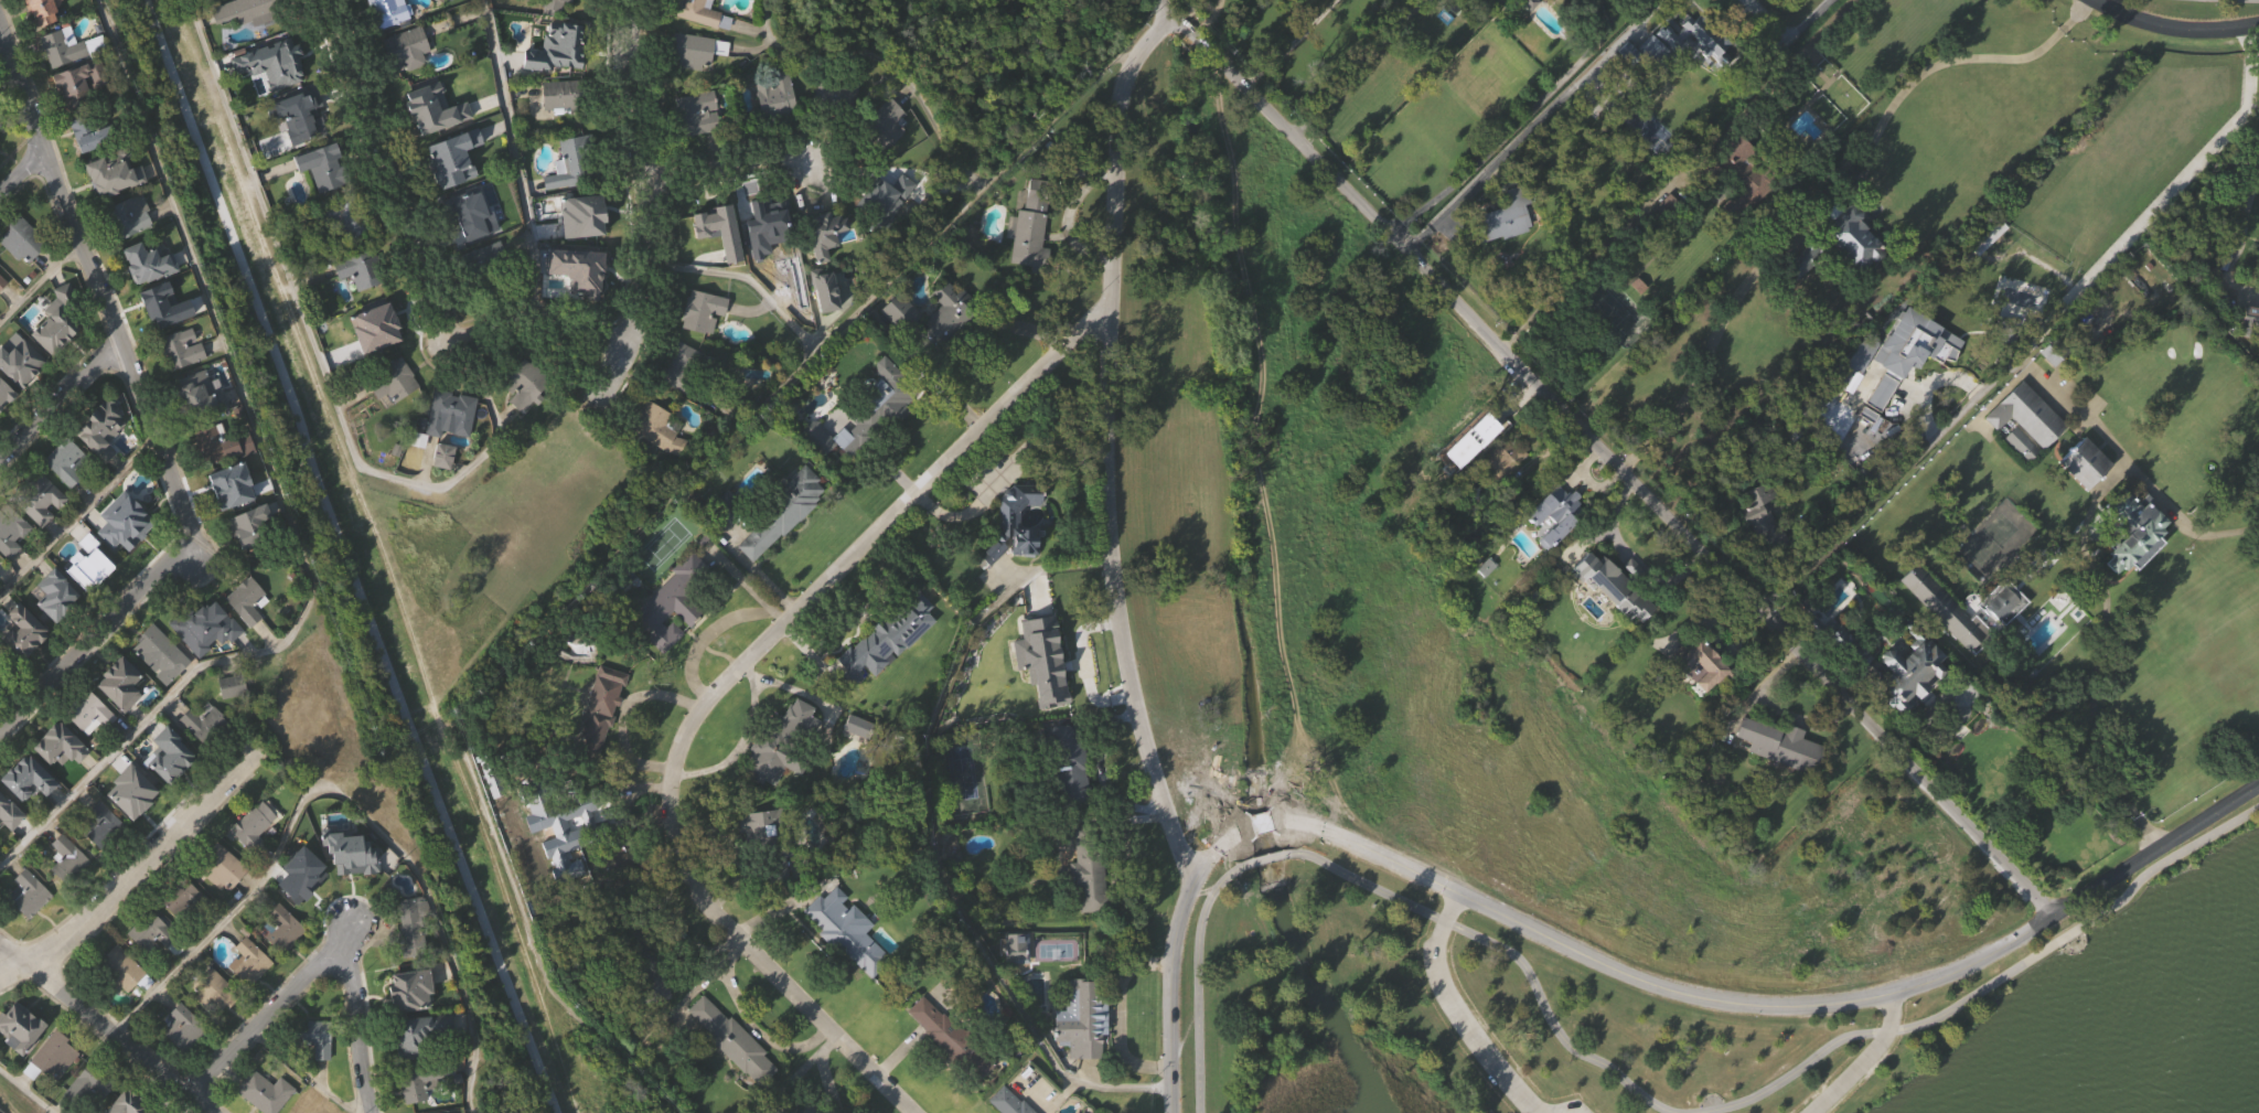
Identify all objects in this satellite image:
building: (729, 3)
building: (251, 4)
building: (375, 4)
building: (1521, 4)
building: (1582, 4)
building: (1640, 7)
park: (2193, 9)
building: (38, 10)
building: (700, 13)
building: (565, 19)
road: (1202, 26)
road: (2173, 28)
building: (395, 32)
building: (1530, 32)
building: (49, 34)
building: (697, 34)
road: (1785, 35)
building: (1710, 41)
building: (259, 43)
road: (2, 45)
building: (63, 49)
road: (1280, 51)
road: (890, 60)
road: (1924, 68)
road: (1350, 73)
building: (1681, 78)
building: (565, 79)
building: (73, 82)
building: (693, 83)
building: (410, 85)
building: (276, 93)
building: (1, 114)
building: (79, 116)
building: (0, 125)
building: (563, 128)
building: (777, 128)
building: (836, 128)
road: (1524, 132)
building: (94, 136)
building: (433, 140)
building: (297, 143)
building: (698, 147)
building: (1, 157)
building: (888, 158)
building: (90, 168)
road: (22, 175)
building: (1702, 176)
road: (521, 178)
building: (1742, 178)
building: (109, 181)
road: (731, 183)
building: (577, 193)
building: (456, 196)
building: (325, 202)
building: (114, 207)
building: (1662, 211)
road: (2244, 213)
road: (649, 216)
building: (1503, 217)
building: (130, 218)
building: (757, 218)
building: (889, 222)
building: (711, 225)
building: (1029, 227)
building: (820, 234)
building: (21, 238)
building: (1850, 239)
building: (1508, 250)
building: (585, 252)
building: (474, 253)
building: (761, 253)
building: (341, 254)
road: (1586, 258)
building: (1806, 259)
building: (1030, 260)
building: (143, 263)
building: (720, 265)
road: (406, 272)
building: (1856, 272)
building: (23, 275)
building: (1990, 275)
road: (747, 278)
road: (39, 280)
building: (2, 282)
building: (483, 288)
building: (821, 291)
building: (1806, 295)
building: (150, 297)
building: (582, 303)
building: (361, 306)
building: (162, 310)
building: (700, 311)
building: (2, 315)
building: (488, 318)
building: (934, 318)
building: (55, 321)
building: (2249, 321)
building: (825, 325)
building: (2010, 332)
road: (1712, 341)
building: (704, 345)
building: (901, 347)
building: (1903, 347)
building: (178, 349)
building: (946, 350)
building: (2052, 352)
building: (2250, 353)
building: (57, 355)
building: (377, 357)
building: (19, 361)
road: (313, 371)
building: (682, 371)
road: (940, 386)
building: (1902, 387)
building: (2054, 393)
building: (4, 395)
building: (194, 395)
road: (58, 398)
building: (682, 400)
building: (1814, 402)
building: (522, 410)
road: (2079, 410)
road: (148, 413)
building: (868, 415)
building: (2027, 415)
building: (388, 418)
building: (6, 427)
building: (97, 427)
building: (200, 427)
building: (656, 428)
building: (1474, 430)
building: (218, 443)
building: (2020, 443)
road: (1597, 446)
building: (447, 449)
building: (865, 449)
road: (1103, 452)
building: (1497, 458)
building: (64, 460)
building: (2086, 461)
building: (659, 462)
building: (103, 463)
building: (1476, 464)
road: (1889, 480)
building: (2023, 481)
building: (229, 486)
building: (443, 489)
building: (1503, 492)
building: (34, 495)
building: (68, 495)
road: (280, 496)
building: (2084, 501)
building: (726, 505)
building: (782, 511)
building: (1553, 513)
building: (1763, 514)
road: (77, 515)
building: (244, 523)
building: (1013, 523)
building: (121, 528)
building: (10, 529)
building: (2134, 531)
building: (42, 534)
road: (622, 541)
building: (729, 541)
building: (1559, 547)
building: (782, 549)
building: (1766, 555)
building: (126, 556)
road: (347, 556)
building: (1015, 558)
building: (254, 559)
building: (92, 564)
building: (11, 565)
building: (2133, 567)
road: (2097, 576)
park: (370, 589)
building: (1620, 592)
building: (89, 597)
building: (245, 599)
building: (2004, 600)
building: (1486, 601)
building: (672, 602)
building: (1945, 607)
building: (1617, 622)
building: (203, 627)
building: (55, 628)
building: (22, 633)
building: (247, 634)
building: (671, 639)
building: (2004, 639)
building: (1946, 643)
building: (158, 649)
building: (1884, 656)
building: (857, 657)
building: (206, 661)
building: (1048, 664)
building: (1700, 664)
building: (24, 665)
building: (889, 672)
building: (0, 675)
building: (119, 683)
road: (724, 683)
building: (229, 685)
building: (161, 688)
building: (599, 706)
building: (0, 708)
building: (1913, 709)
building: (87, 713)
building: (121, 717)
building: (233, 719)
building: (204, 724)
road: (741, 740)
building: (601, 741)
building: (779, 743)
building: (1780, 743)
building: (55, 747)
building: (92, 747)
building: (163, 751)
building: (204, 756)
park: (1529, 763)
building: (1062, 767)
building: (24, 777)
building: (62, 779)
building: (782, 779)
building: (1786, 779)
building: (170, 789)
building: (136, 790)
road: (344, 802)
building: (6, 812)
road: (1272, 822)
building: (104, 824)
building: (133, 824)
building: (250, 826)
building: (566, 830)
road: (930, 839)
building: (763, 841)
building: (9, 846)
building: (350, 857)
building: (66, 858)
building: (105, 859)
building: (254, 859)
building: (759, 860)
road: (1268, 860)
road: (141, 863)
building: (218, 867)
building: (1089, 867)
building: (302, 875)
building: (353, 889)
building: (68, 891)
building: (25, 892)
building: (181, 896)
building: (224, 902)
building: (302, 909)
building: (1090, 912)
building: (409, 923)
building: (32, 928)
building: (280, 928)
building: (182, 931)
building: (844, 931)
building: (148, 933)
building: (638, 952)
road: (1509, 952)
building: (411, 959)
road: (314, 960)
road: (1174, 960)
building: (247, 961)
building: (285, 962)
building: (847, 964)
building: (152, 968)
road: (12, 970)
building: (120, 971)
road: (1199, 981)
road: (1989, 984)
building: (402, 985)
building: (210, 992)
building: (249, 995)
building: (121, 1003)
road: (1789, 1005)
road: (1458, 1014)
building: (1081, 1018)
building: (19, 1023)
building: (213, 1024)
building: (179, 1026)
road: (105, 1028)
building: (312, 1036)
building: (410, 1036)
building: (948, 1039)
building: (731, 1041)
building: (1082, 1053)
building: (50, 1058)
road: (1866, 1060)
building: (21, 1061)
building: (184, 1061)
building: (317, 1070)
building: (950, 1071)
building: (732, 1072)
building: (415, 1082)
building: (86, 1084)
road: (25, 1091)
building: (263, 1092)
building: (1008, 1102)
building: (131, 1103)
building: (303, 1106)
building: (794, 1106)
building: (424, 1107)
parking lot: (1574, 1107)
building: (254, 1109)
building: (281, 1111)

